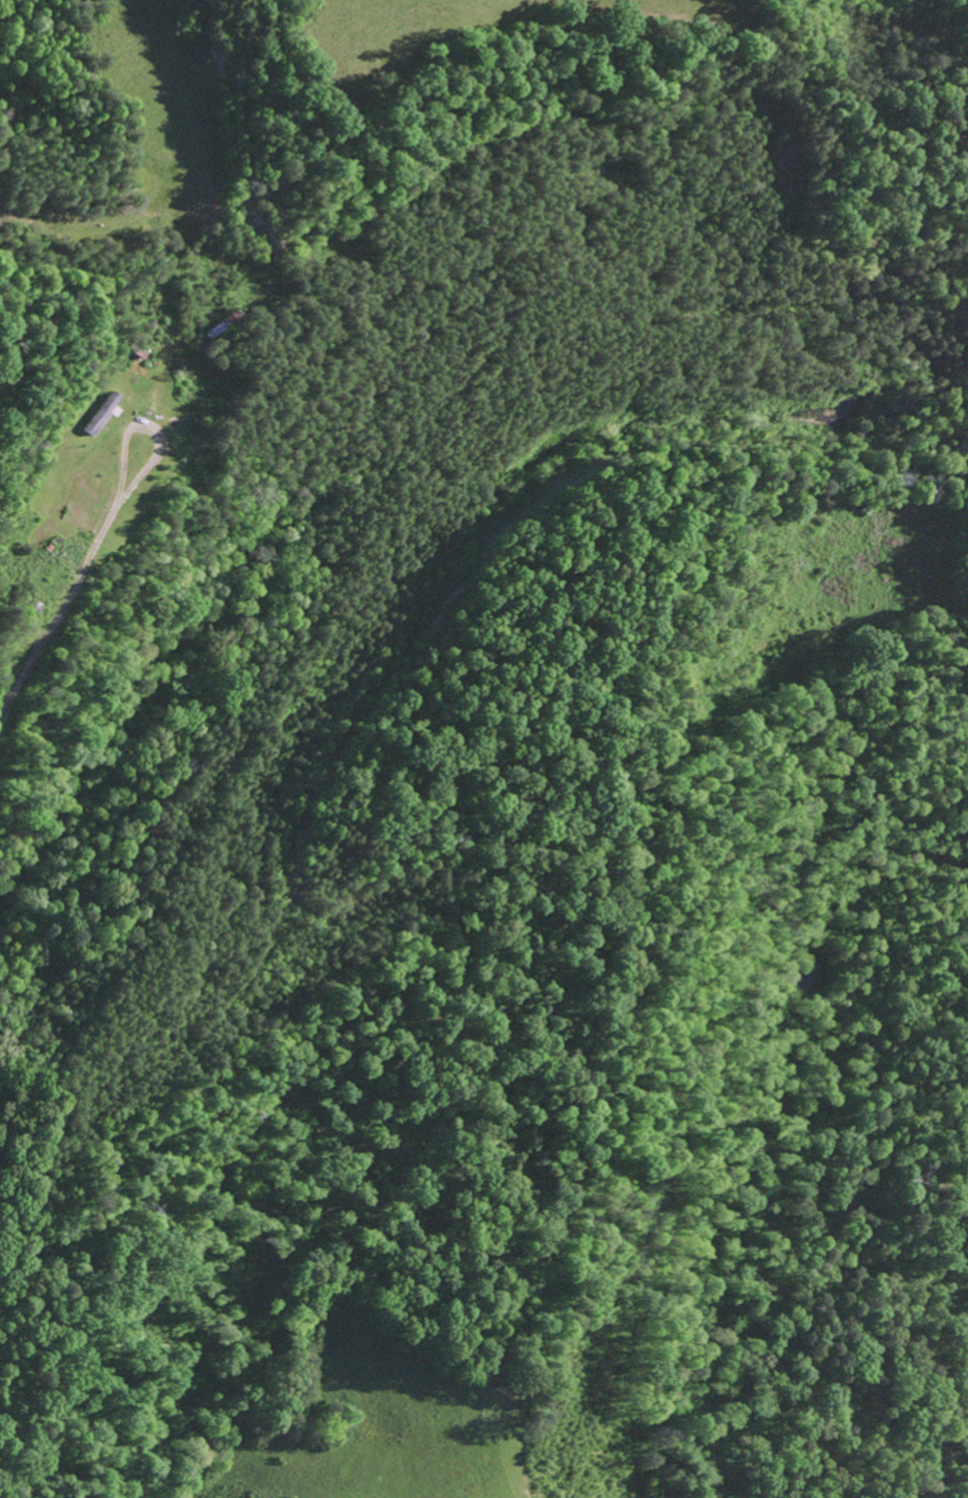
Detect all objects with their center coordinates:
building: (109, 406)
road: (887, 1420)

